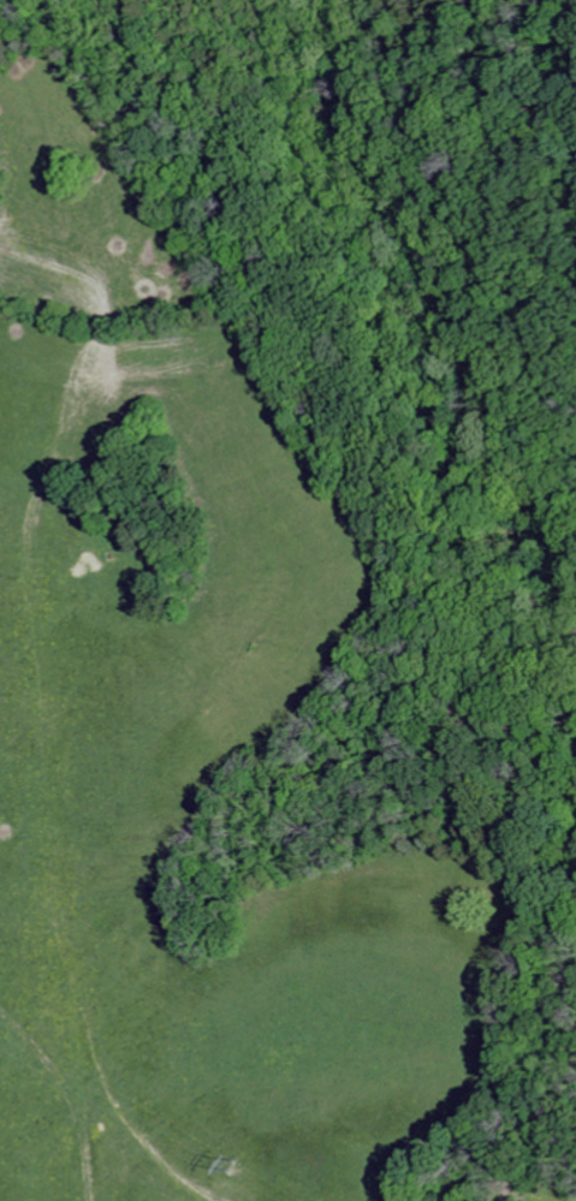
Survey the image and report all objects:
power tower: (228, 1163)

